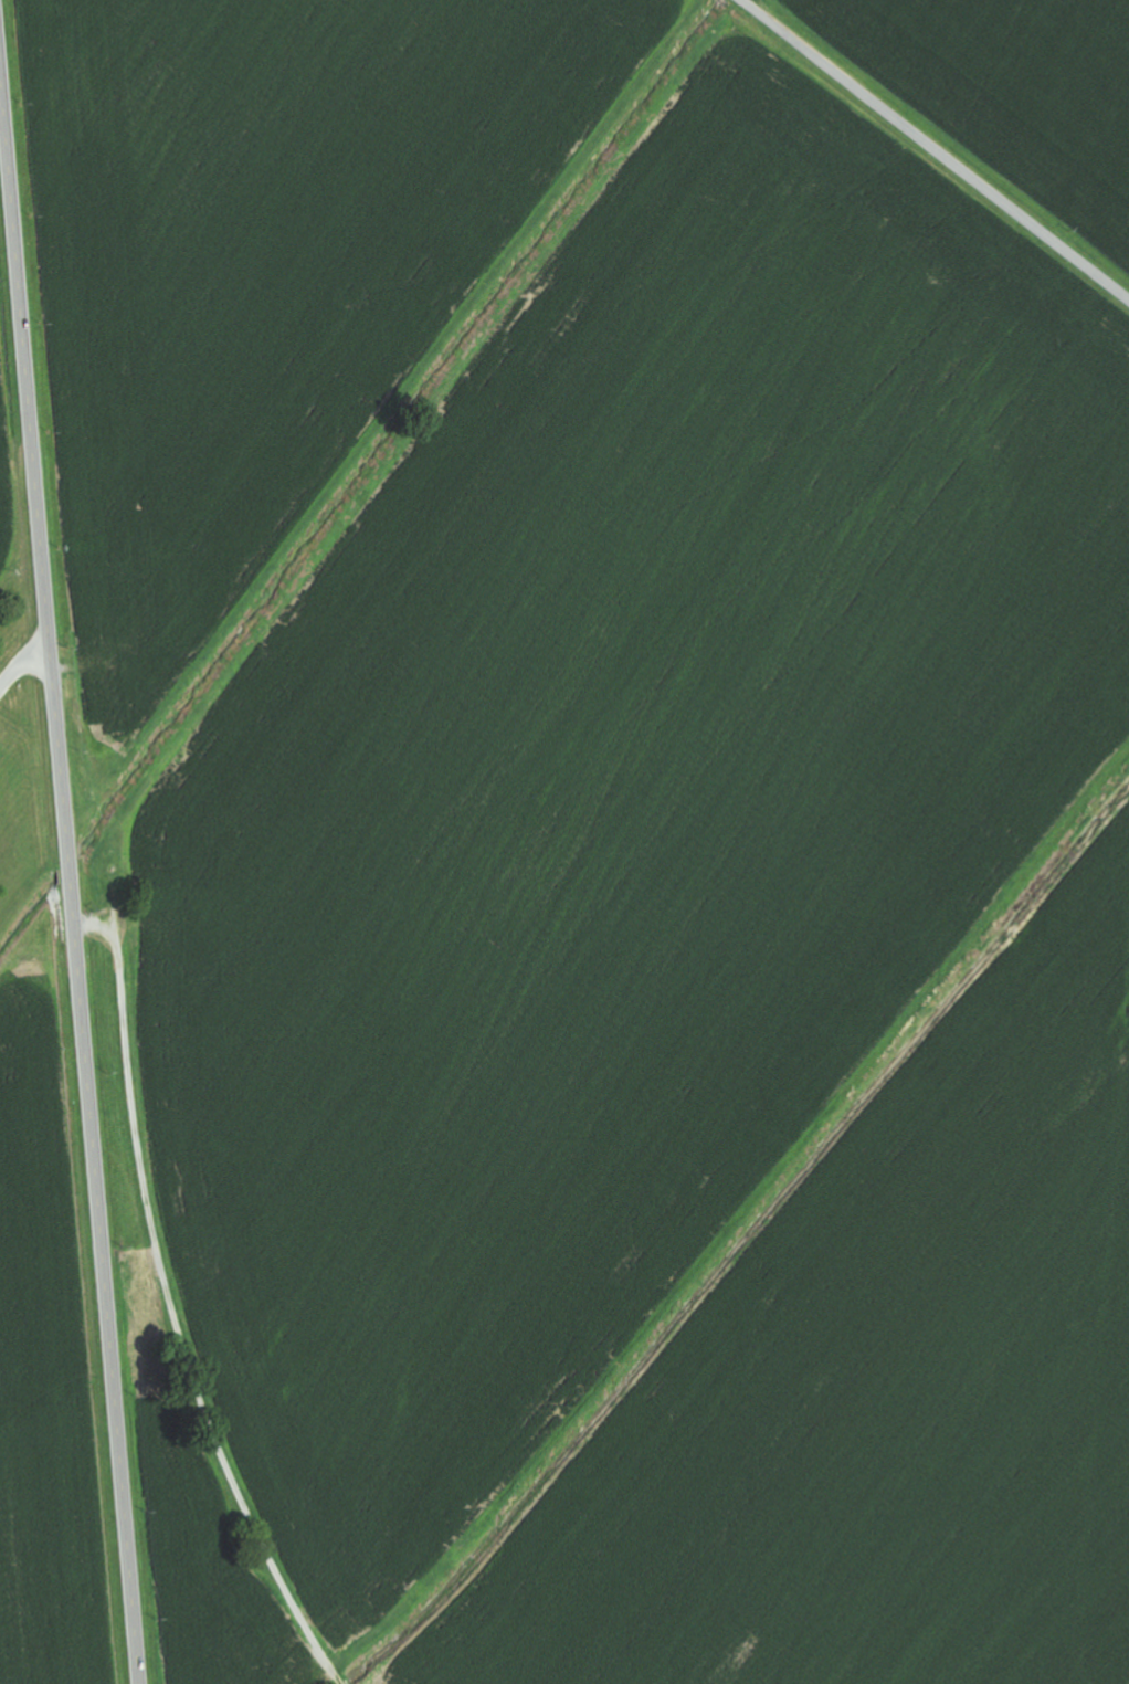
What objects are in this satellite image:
road: (933, 149)
road: (27, 701)
road: (68, 874)

